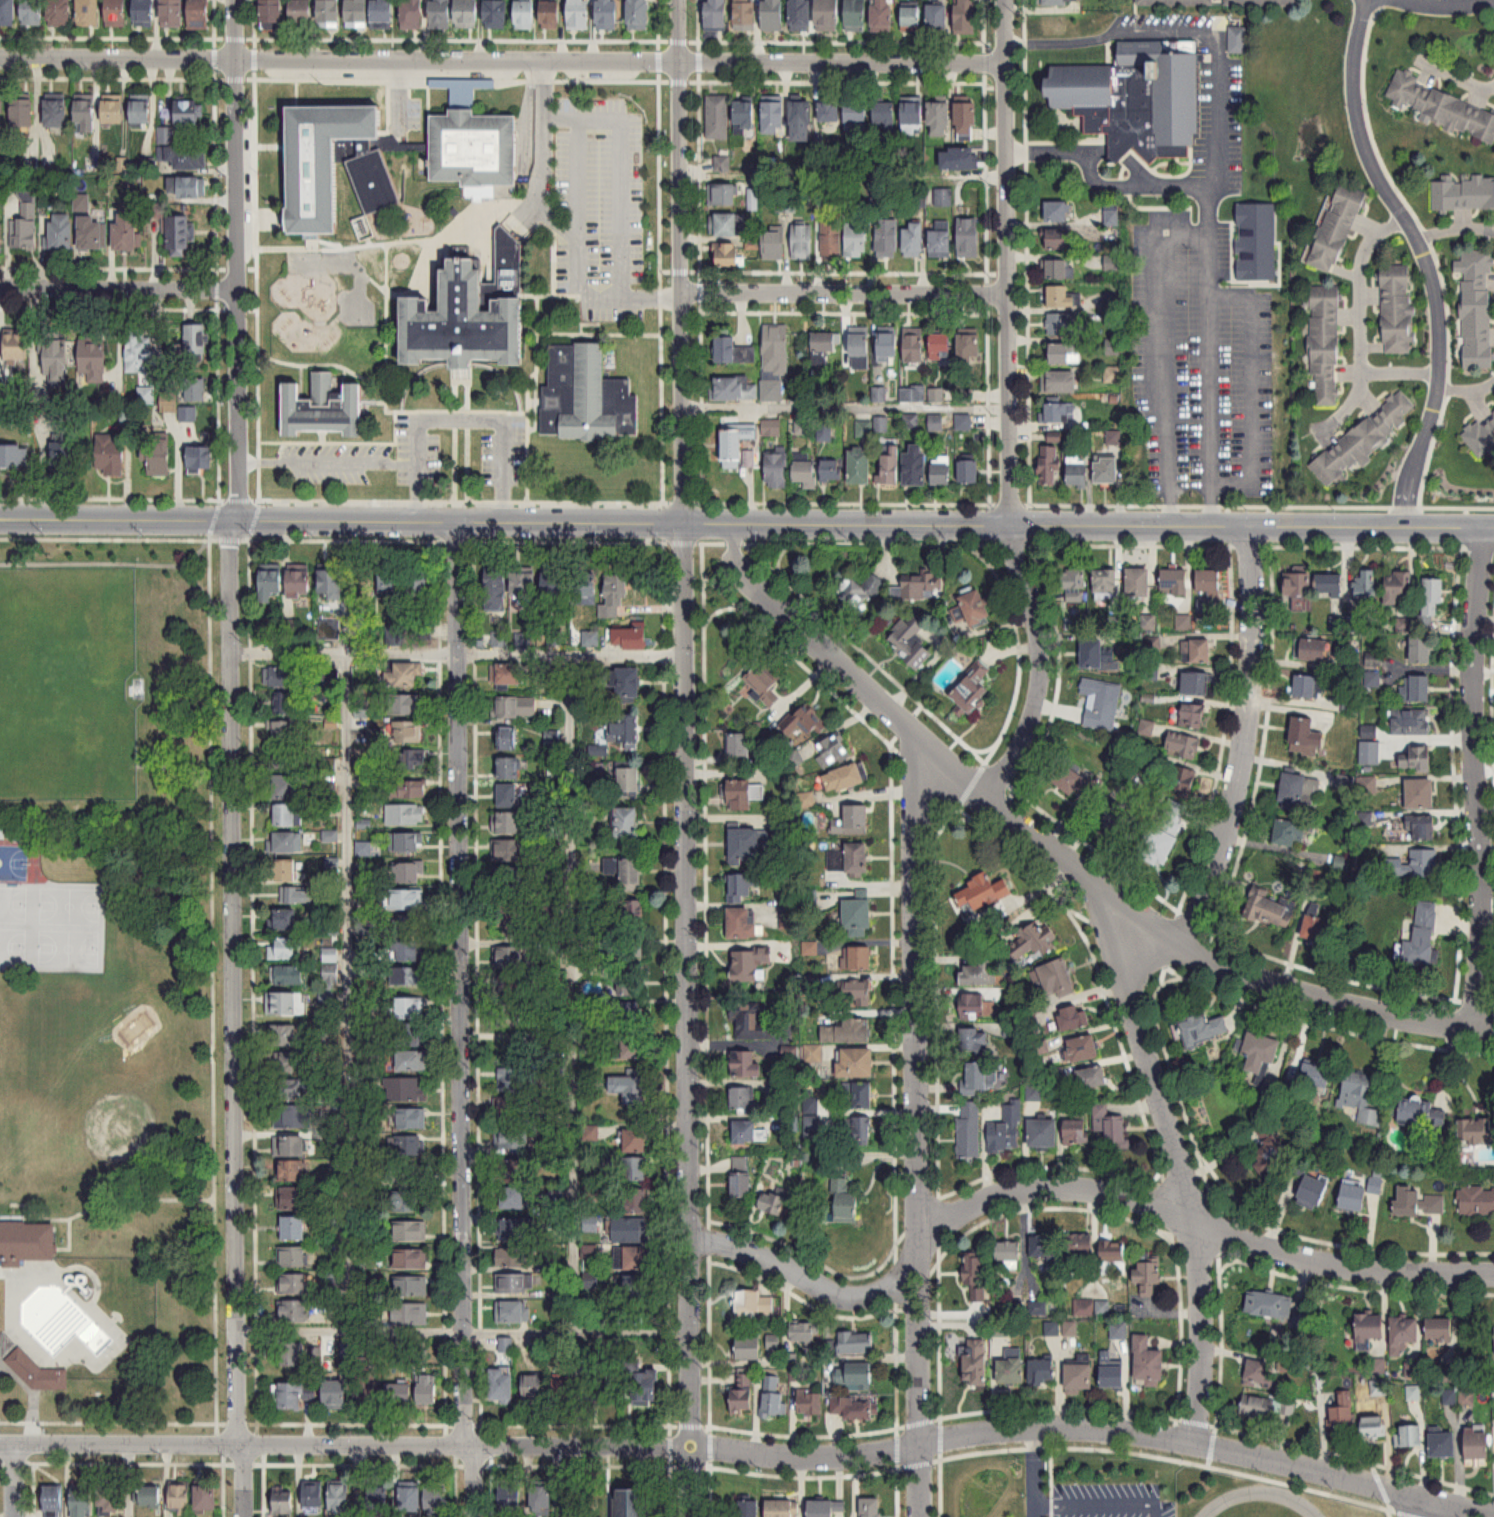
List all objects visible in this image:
building: (1059, 2)
building: (1174, 3)
building: (1262, 3)
road: (1441, 8)
building: (302, 11)
building: (8, 12)
building: (32, 12)
building: (59, 13)
building: (88, 13)
building: (116, 13)
building: (144, 13)
building: (329, 13)
building: (467, 13)
building: (550, 13)
building: (639, 13)
building: (172, 14)
building: (199, 14)
building: (271, 14)
building: (357, 14)
building: (382, 14)
building: (440, 14)
building: (496, 14)
building: (412, 15)
building: (525, 15)
building: (579, 15)
building: (608, 15)
building: (717, 15)
building: (746, 15)
building: (774, 15)
building: (801, 15)
building: (856, 15)
building: (828, 16)
building: (882, 16)
building: (937, 17)
building: (967, 17)
building: (911, 18)
building: (1063, 25)
road: (1109, 31)
building: (1237, 40)
road: (501, 61)
road: (1456, 78)
building: (1137, 99)
building: (1443, 108)
building: (141, 110)
building: (112, 112)
building: (830, 112)
building: (22, 113)
building: (55, 113)
building: (856, 113)
building: (85, 115)
building: (189, 115)
building: (885, 115)
building: (717, 117)
building: (745, 117)
building: (773, 118)
building: (913, 118)
building: (966, 119)
building: (939, 120)
building: (800, 121)
building: (472, 141)
road: (1086, 151)
building: (184, 158)
building: (964, 158)
building: (322, 161)
road: (622, 168)
road: (842, 171)
building: (374, 182)
road: (1134, 185)
building: (187, 187)
building: (1463, 193)
building: (723, 195)
building: (944, 198)
building: (787, 204)
building: (1058, 212)
building: (25, 222)
road: (562, 225)
building: (724, 225)
building: (1336, 227)
road: (1455, 229)
building: (1, 233)
building: (62, 233)
building: (126, 233)
building: (92, 235)
building: (179, 236)
building: (968, 238)
building: (886, 239)
building: (752, 240)
building: (831, 240)
building: (857, 240)
building: (913, 240)
building: (941, 240)
building: (1059, 240)
building: (802, 242)
building: (774, 243)
road: (320, 247)
building: (730, 256)
road: (233, 259)
road: (1426, 259)
road: (679, 260)
road: (1005, 262)
building: (1059, 269)
road: (1207, 276)
road: (116, 288)
road: (843, 294)
building: (1061, 298)
building: (1396, 308)
building: (1477, 309)
road: (1360, 321)
building: (464, 323)
building: (1063, 324)
road: (591, 332)
building: (196, 343)
building: (1325, 343)
building: (822, 345)
building: (914, 345)
building: (940, 345)
building: (888, 346)
building: (969, 347)
building: (15, 348)
building: (860, 348)
building: (1112, 348)
building: (726, 349)
building: (138, 351)
building: (1063, 354)
road: (1160, 356)
building: (56, 361)
building: (775, 361)
building: (94, 362)
road: (327, 363)
road: (1400, 372)
building: (1112, 375)
road: (460, 379)
building: (1059, 382)
building: (735, 389)
road: (1250, 389)
building: (195, 390)
road: (1466, 390)
building: (146, 395)
building: (912, 395)
road: (384, 397)
building: (586, 397)
building: (170, 402)
road: (844, 407)
building: (324, 408)
building: (1059, 413)
building: (188, 414)
road: (526, 414)
road: (459, 419)
building: (935, 422)
building: (963, 422)
building: (1480, 434)
road: (660, 436)
road: (453, 438)
road: (466, 439)
road: (340, 440)
building: (1362, 440)
building: (735, 441)
building: (111, 452)
building: (158, 454)
building: (199, 456)
building: (13, 457)
building: (64, 457)
road: (326, 461)
building: (890, 465)
building: (1050, 465)
building: (860, 466)
building: (915, 466)
building: (776, 469)
building: (831, 470)
building: (941, 470)
building: (1107, 470)
building: (969, 472)
road: (1189, 472)
building: (805, 473)
building: (1078, 474)
road: (330, 499)
road: (116, 517)
road: (863, 523)
road: (330, 539)
road: (109, 562)
building: (1074, 581)
building: (1208, 581)
building: (1176, 582)
building: (271, 583)
building: (391, 583)
building: (1105, 583)
building: (1138, 583)
building: (299, 584)
building: (1331, 584)
building: (331, 585)
building: (420, 585)
building: (524, 585)
building: (1297, 585)
building: (1368, 586)
building: (920, 587)
building: (1397, 587)
building: (586, 589)
building: (496, 590)
building: (555, 591)
building: (861, 591)
building: (616, 597)
building: (1433, 598)
building: (976, 609)
building: (331, 630)
building: (394, 635)
building: (270, 636)
building: (498, 639)
building: (630, 641)
building: (910, 643)
building: (1312, 650)
building: (1422, 650)
building: (1196, 652)
road: (456, 653)
building: (1096, 657)
road: (1039, 663)
building: (506, 675)
building: (404, 676)
building: (283, 677)
building: (327, 680)
park: (66, 682)
building: (763, 682)
building: (626, 684)
building: (1196, 684)
building: (1309, 688)
building: (1421, 689)
building: (972, 690)
building: (1102, 701)
building: (283, 703)
building: (405, 705)
building: (514, 708)
building: (1192, 716)
road: (902, 724)
building: (1412, 724)
building: (803, 725)
building: (406, 732)
building: (623, 732)
building: (1305, 738)
building: (508, 739)
road: (1246, 741)
building: (284, 745)
building: (738, 746)
building: (1183, 746)
building: (832, 751)
building: (1416, 759)
building: (409, 761)
road: (172, 767)
building: (509, 769)
road: (1475, 778)
building: (844, 779)
building: (1180, 780)
building: (1074, 782)
building: (629, 783)
building: (286, 787)
building: (1368, 787)
building: (1299, 788)
building: (407, 790)
building: (744, 795)
building: (1421, 795)
building: (509, 796)
building: (404, 815)
building: (1124, 821)
building: (852, 822)
building: (509, 823)
building: (627, 827)
road: (159, 828)
building: (1422, 829)
building: (1164, 830)
building: (1289, 833)
building: (329, 836)
building: (286, 843)
building: (405, 843)
building: (744, 844)
building: (510, 851)
road: (250, 855)
building: (849, 859)
building: (1414, 865)
building: (284, 871)
building: (625, 872)
building: (408, 873)
building: (507, 879)
road: (103, 883)
building: (742, 888)
building: (985, 892)
building: (298, 896)
building: (407, 900)
road: (100, 904)
building: (1274, 911)
building: (633, 912)
park: (46, 915)
building: (511, 916)
building: (857, 918)
building: (285, 920)
road: (1144, 922)
building: (407, 924)
building: (741, 924)
building: (1320, 929)
building: (1420, 938)
building: (1029, 944)
building: (624, 947)
building: (285, 948)
building: (400, 952)
building: (508, 957)
building: (857, 959)
building: (750, 965)
building: (980, 973)
building: (329, 975)
building: (287, 976)
building: (408, 977)
road: (211, 980)
road: (232, 980)
building: (1057, 980)
building: (630, 981)
park: (110, 985)
building: (510, 986)
road: (348, 990)
road: (572, 992)
building: (858, 994)
road: (1331, 1000)
building: (285, 1004)
building: (977, 1007)
building: (410, 1008)
building: (631, 1015)
building: (508, 1017)
road: (460, 1018)
road: (687, 1018)
building: (1073, 1019)
building: (751, 1024)
building: (1204, 1030)
building: (848, 1032)
building: (409, 1035)
building: (285, 1036)
building: (974, 1042)
building: (634, 1048)
building: (1083, 1049)
building: (1260, 1052)
building: (412, 1061)
building: (856, 1064)
building: (746, 1065)
building: (291, 1076)
building: (977, 1078)
building: (1090, 1078)
building: (1312, 1079)
building: (513, 1080)
building: (405, 1090)
building: (631, 1093)
building: (858, 1097)
building: (1361, 1098)
building: (742, 1101)
building: (510, 1108)
building: (1425, 1115)
building: (293, 1117)
building: (409, 1119)
road: (917, 1124)
building: (1111, 1128)
building: (1006, 1130)
building: (859, 1131)
building: (968, 1132)
building: (1076, 1133)
building: (1476, 1133)
building: (748, 1134)
building: (1043, 1135)
building: (511, 1138)
building: (636, 1142)
building: (409, 1146)
building: (289, 1148)
building: (1270, 1156)
road: (1179, 1167)
building: (635, 1170)
building: (516, 1172)
building: (292, 1173)
building: (403, 1174)
building: (741, 1181)
road: (1071, 1188)
building: (1361, 1193)
road: (104, 1199)
building: (513, 1199)
building: (292, 1200)
building: (1477, 1201)
building: (409, 1202)
building: (775, 1202)
building: (633, 1203)
building: (845, 1203)
building: (1419, 1203)
building: (516, 1228)
building: (293, 1230)
building: (631, 1231)
building: (410, 1232)
road: (68, 1239)
building: (24, 1242)
building: (1080, 1246)
building: (1043, 1248)
building: (1008, 1253)
building: (1113, 1253)
building: (291, 1258)
building: (515, 1258)
building: (636, 1259)
building: (410, 1260)
building: (975, 1272)
building: (1148, 1280)
building: (513, 1284)
building: (292, 1285)
building: (412, 1287)
building: (633, 1288)
building: (754, 1305)
building: (1269, 1306)
building: (1090, 1308)
building: (292, 1313)
building: (512, 1313)
building: (410, 1315)
road: (461, 1329)
building: (1052, 1330)
building: (1440, 1330)
building: (1118, 1331)
building: (803, 1333)
building: (1371, 1333)
building: (1404, 1334)
building: (854, 1343)
building: (505, 1346)
building: (749, 1349)
building: (294, 1356)
building: (420, 1359)
building: (975, 1362)
building: (1148, 1364)
building: (1012, 1367)
building: (35, 1370)
building: (1042, 1373)
building: (1112, 1373)
building: (1261, 1375)
building: (857, 1376)
building: (1079, 1379)
road: (25, 1386)
building: (502, 1386)
building: (646, 1389)
building: (532, 1390)
building: (563, 1390)
building: (599, 1391)
building: (1414, 1393)
building: (367, 1394)
building: (426, 1394)
building: (400, 1395)
building: (744, 1395)
building: (293, 1396)
building: (335, 1396)
building: (772, 1396)
building: (811, 1405)
building: (1268, 1408)
building: (853, 1410)
building: (1343, 1413)
road: (127, 1421)
building: (1373, 1427)
road: (31, 1431)
building: (1410, 1437)
road: (119, 1442)
building: (1442, 1445)
building: (1477, 1445)
road: (868, 1453)
road: (131, 1462)
road: (1033, 1473)
road: (12, 1479)
road: (127, 1479)
road: (242, 1479)
road: (359, 1481)
building: (149, 1495)
building: (313, 1495)
building: (206, 1497)
building: (377, 1497)
building: (180, 1498)
building: (339, 1498)
building: (53, 1500)
building: (109, 1500)
building: (413, 1500)
building: (541, 1500)
track: (1293, 1500)
building: (283, 1501)
building: (510, 1501)
road: (1101, 1501)
building: (81, 1502)
building: (632, 1502)
building: (568, 1503)
building: (871, 1506)
building: (437, 1507)
building: (782, 1507)
road: (1413, 1507)
building: (749, 1508)
building: (825, 1508)

